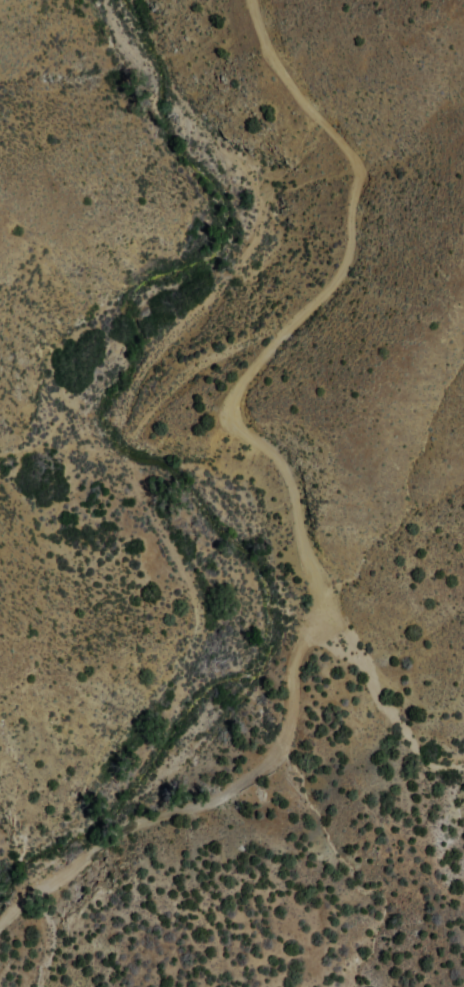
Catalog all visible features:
road: (134, 419)

